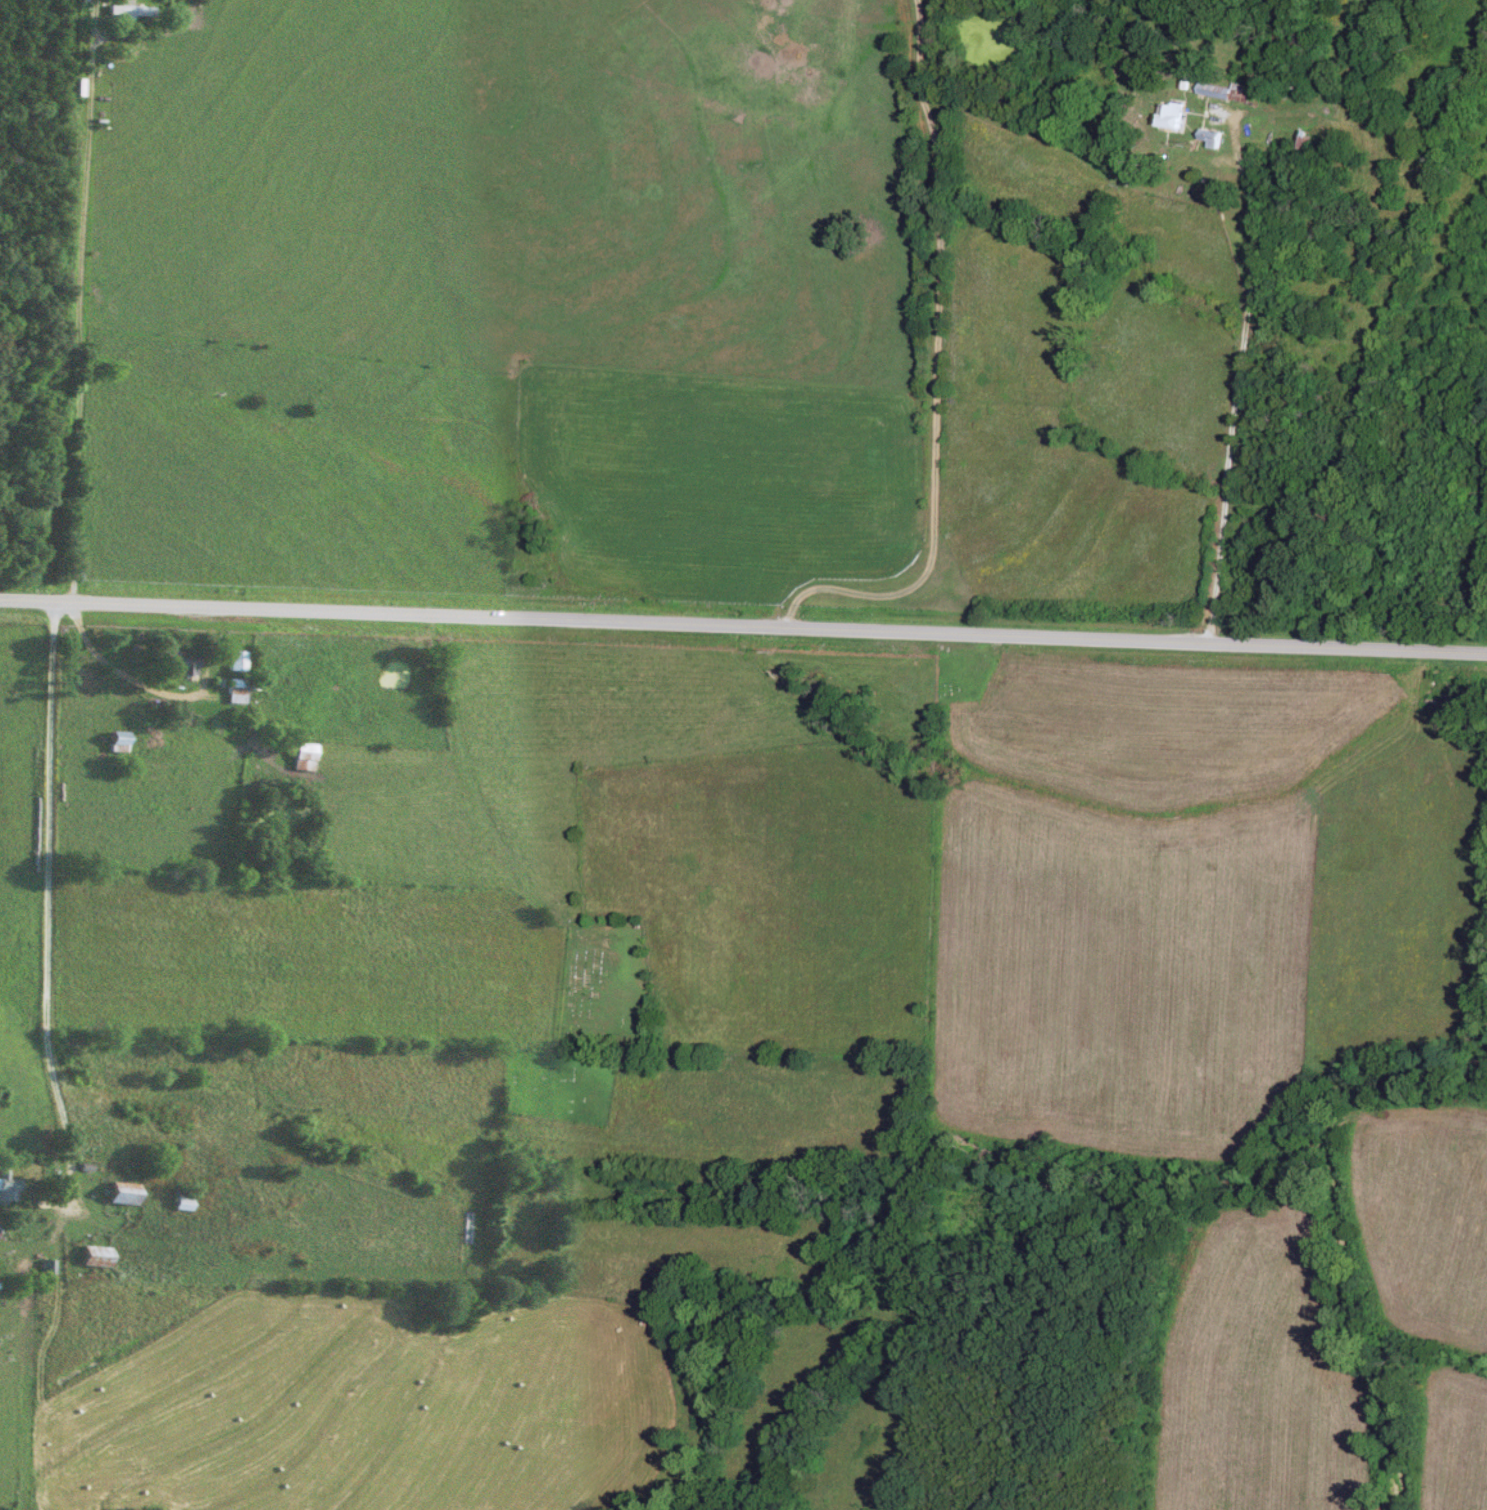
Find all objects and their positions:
building: (133, 11)
building: (1221, 94)
building: (1169, 118)
building: (1208, 139)
road: (1240, 362)
road: (935, 369)
road: (84, 402)
road: (743, 624)
building: (239, 662)
building: (181, 664)
building: (238, 692)
building: (119, 744)
building: (307, 758)
road: (52, 943)
park: (603, 990)
building: (8, 1188)
building: (124, 1194)
building: (184, 1201)
building: (97, 1257)
building: (104, 1312)

